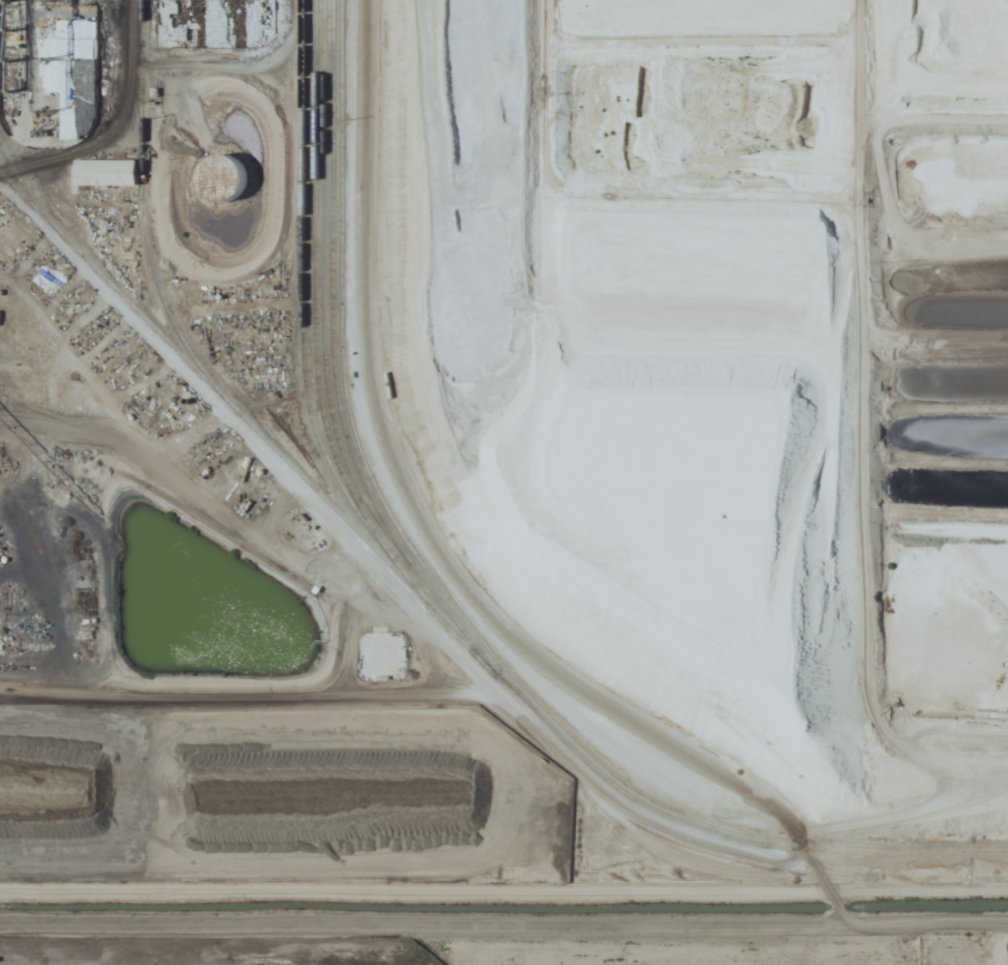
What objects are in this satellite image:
building: (106, 173)
building: (222, 177)
railway: (287, 265)
railway: (439, 715)

